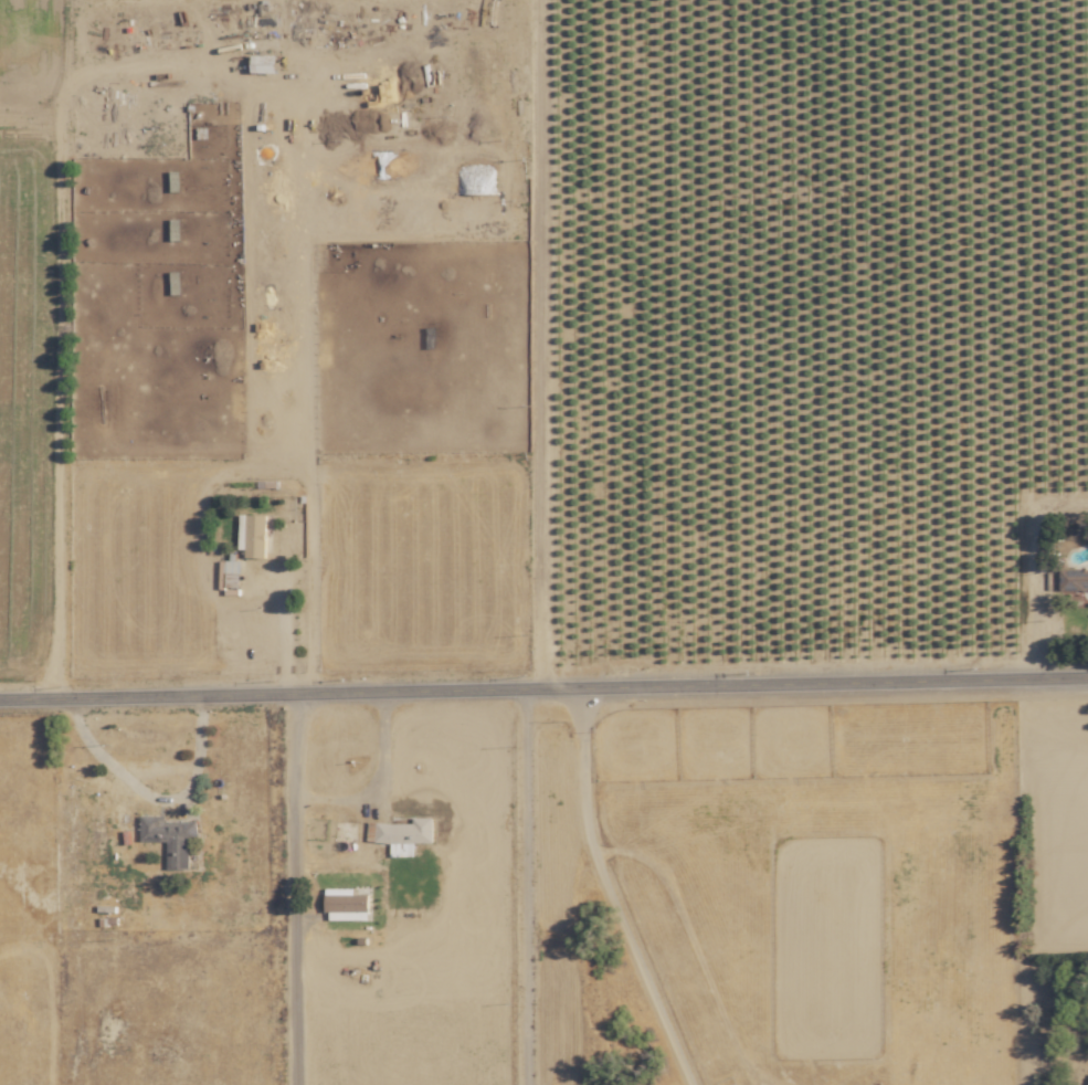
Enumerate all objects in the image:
road: (547, 343)
road: (57, 410)
building: (256, 535)
road: (283, 633)
road: (543, 684)
road: (383, 740)
road: (330, 792)
road: (154, 794)
building: (178, 841)
road: (521, 885)
road: (288, 886)
road: (612, 889)
building: (350, 905)

